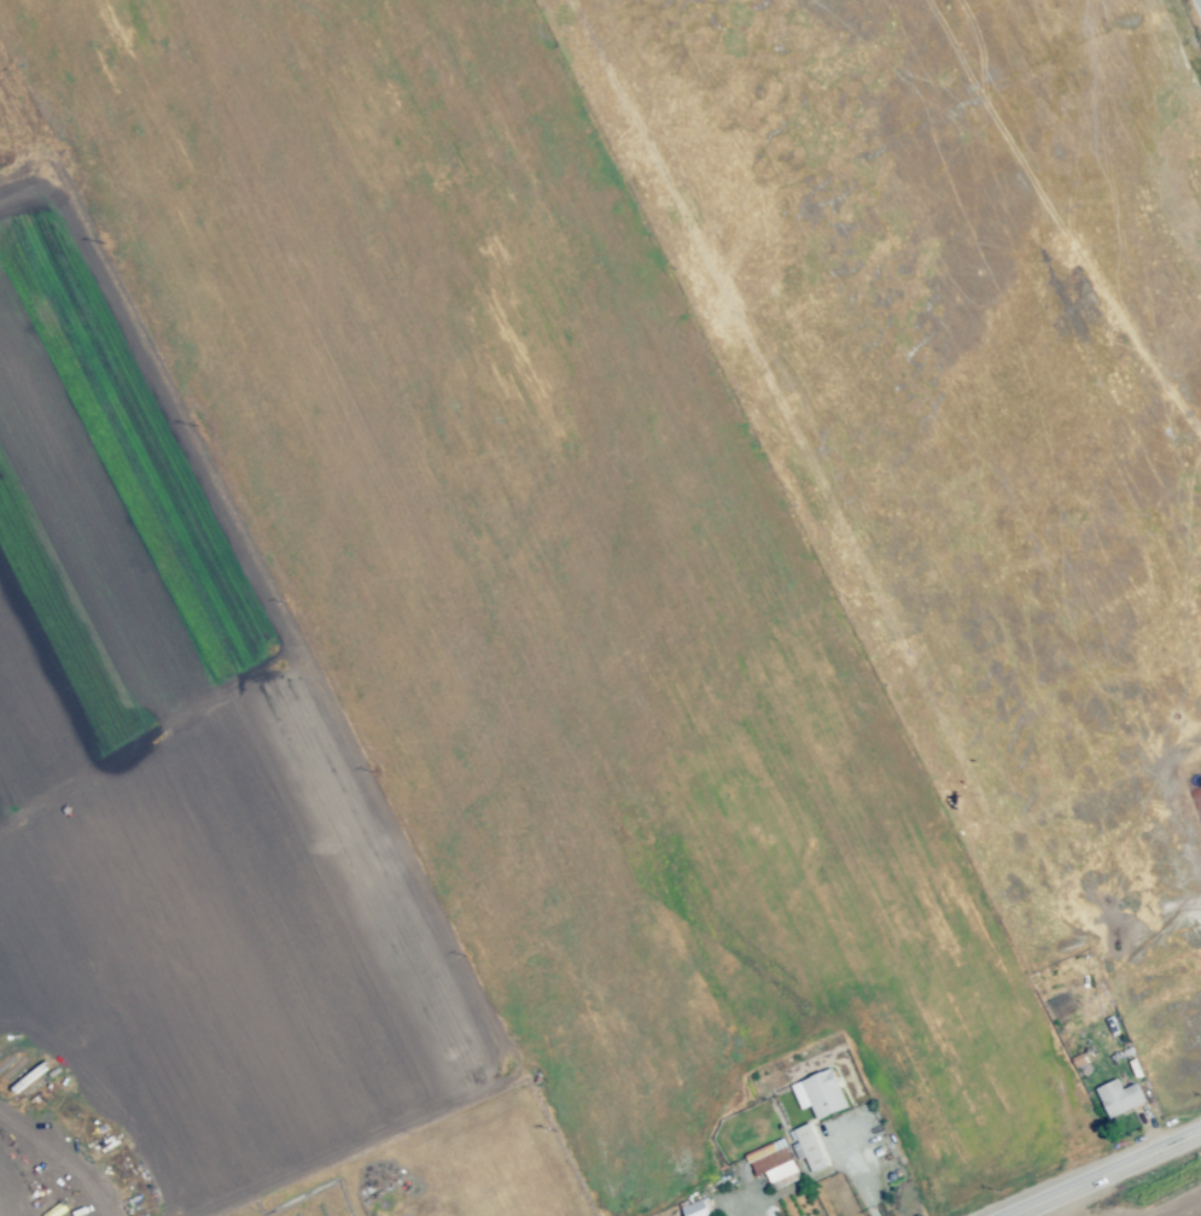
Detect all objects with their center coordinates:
road: (1195, 12)
crop: (4, 146)
crop: (431, 683)
building: (824, 1094)
building: (1118, 1099)
building: (809, 1148)
building: (775, 1165)
road: (821, 1171)
road: (1113, 1177)
building: (785, 1180)
crop: (1124, 1195)
building: (696, 1210)

